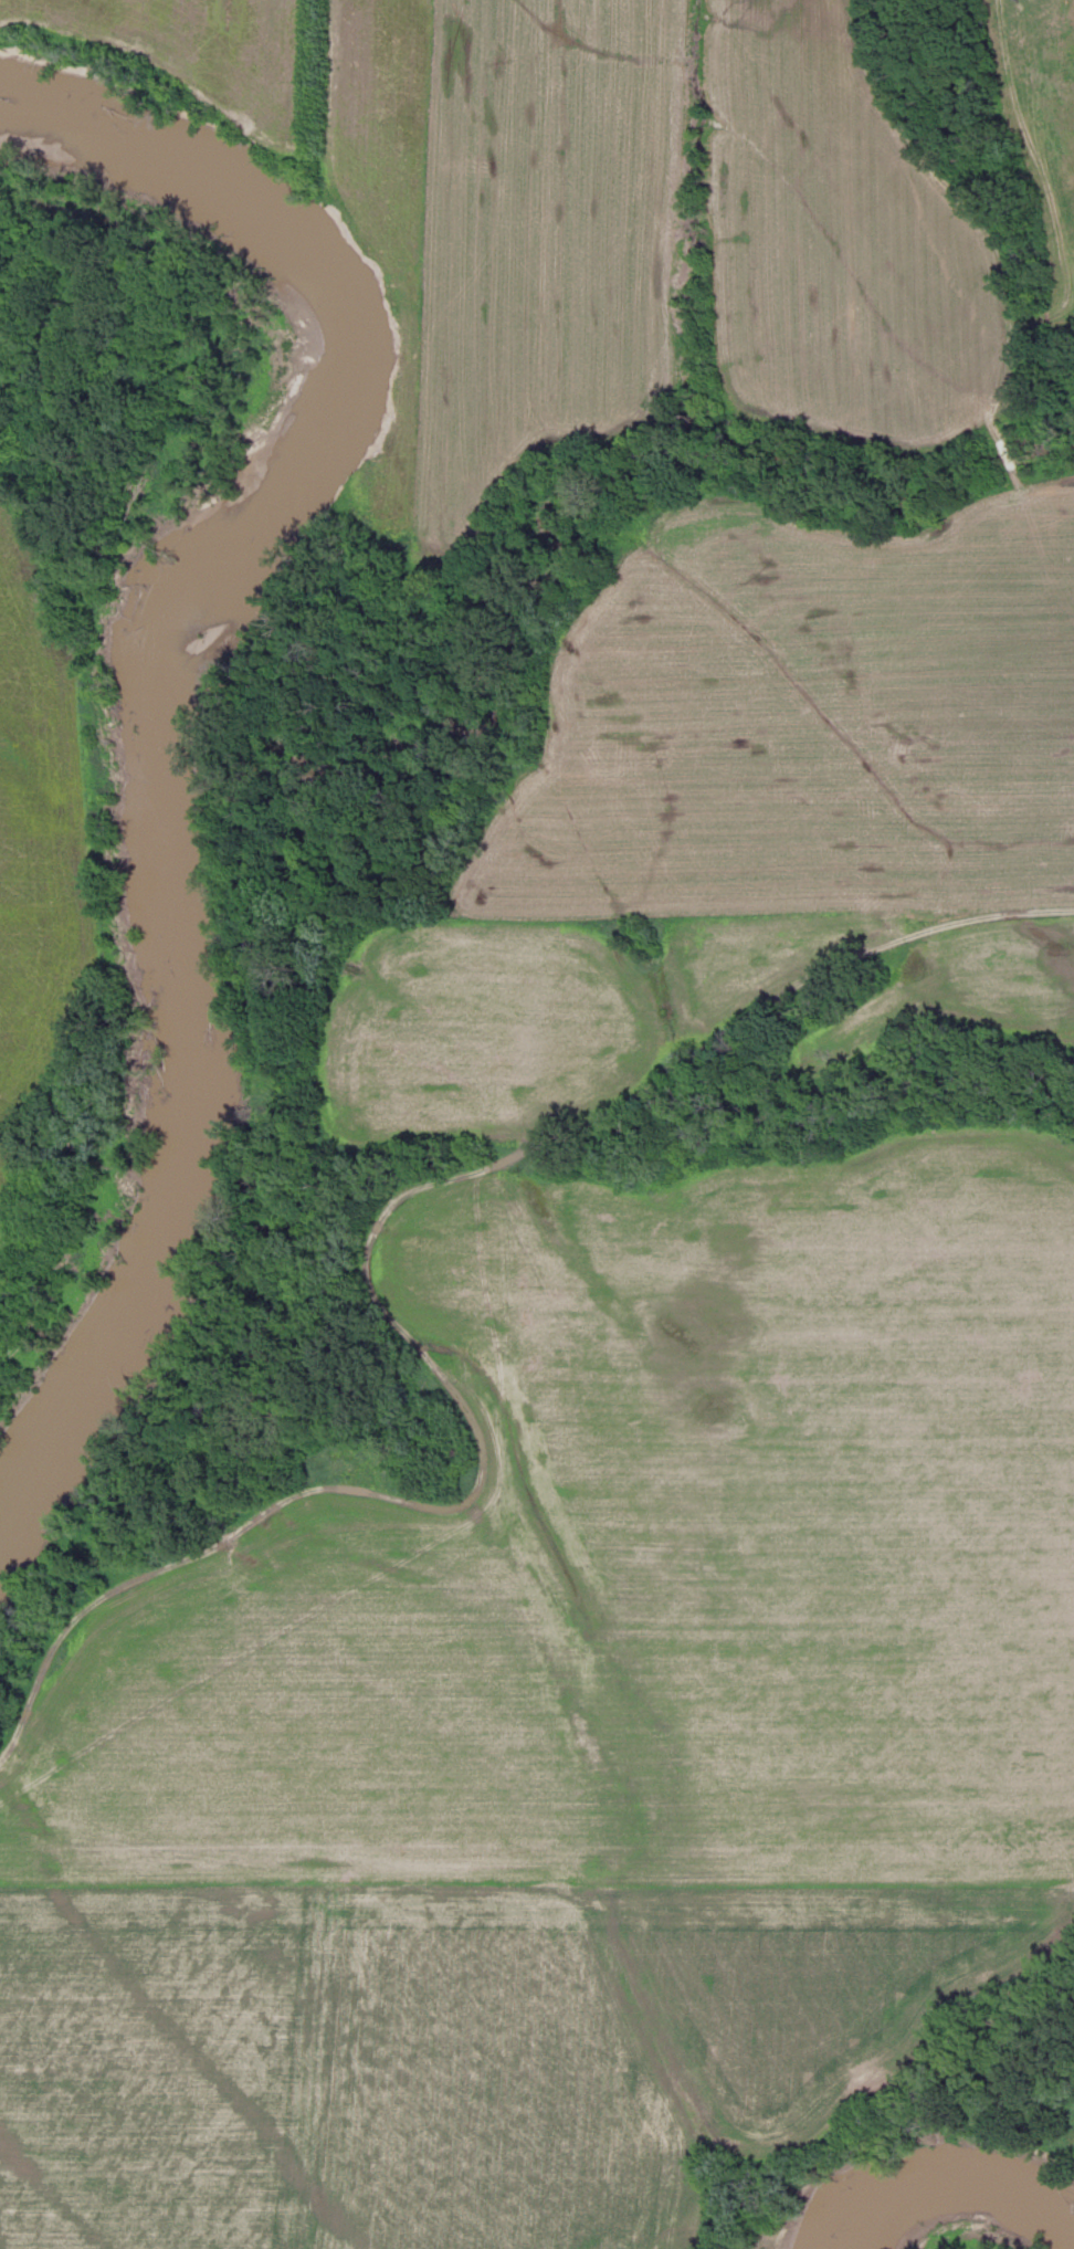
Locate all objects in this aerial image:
river: (160, 726)
river: (926, 2184)

